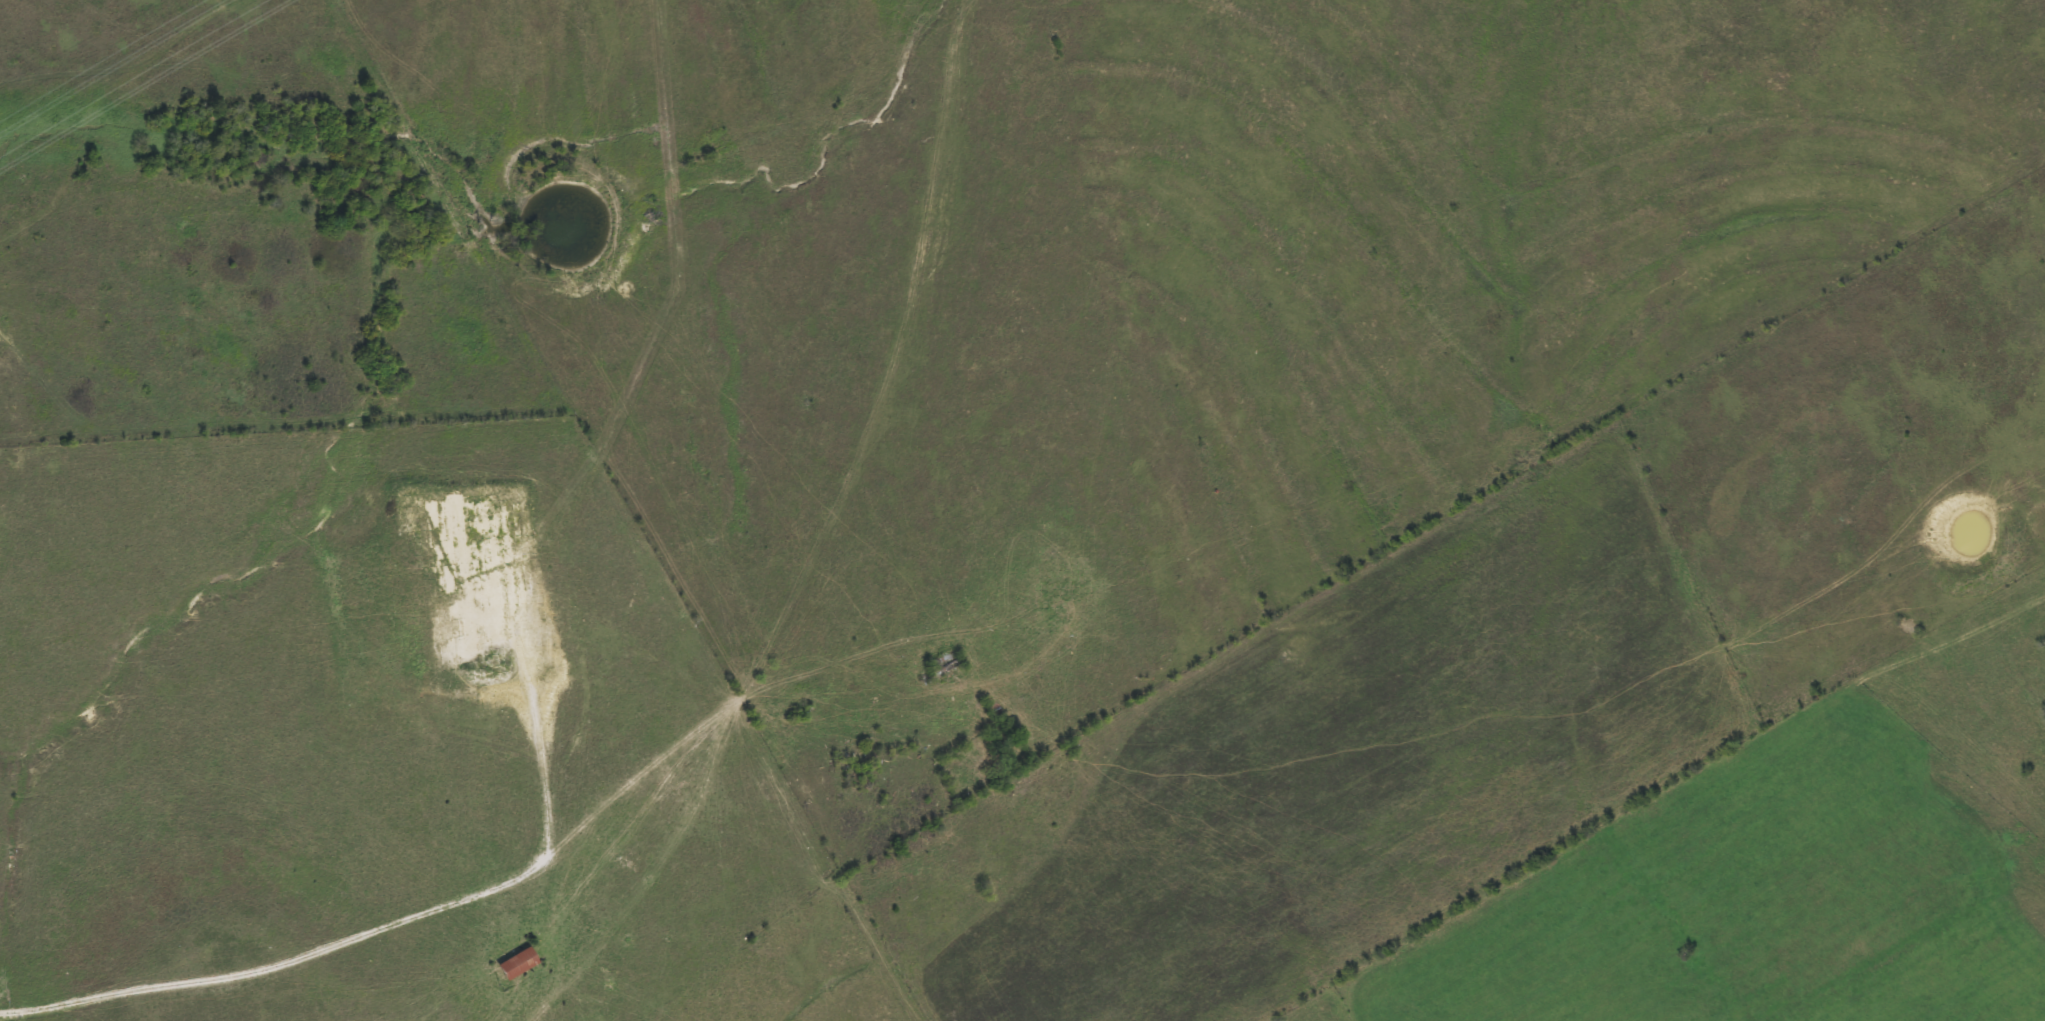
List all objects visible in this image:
building: (512, 962)

